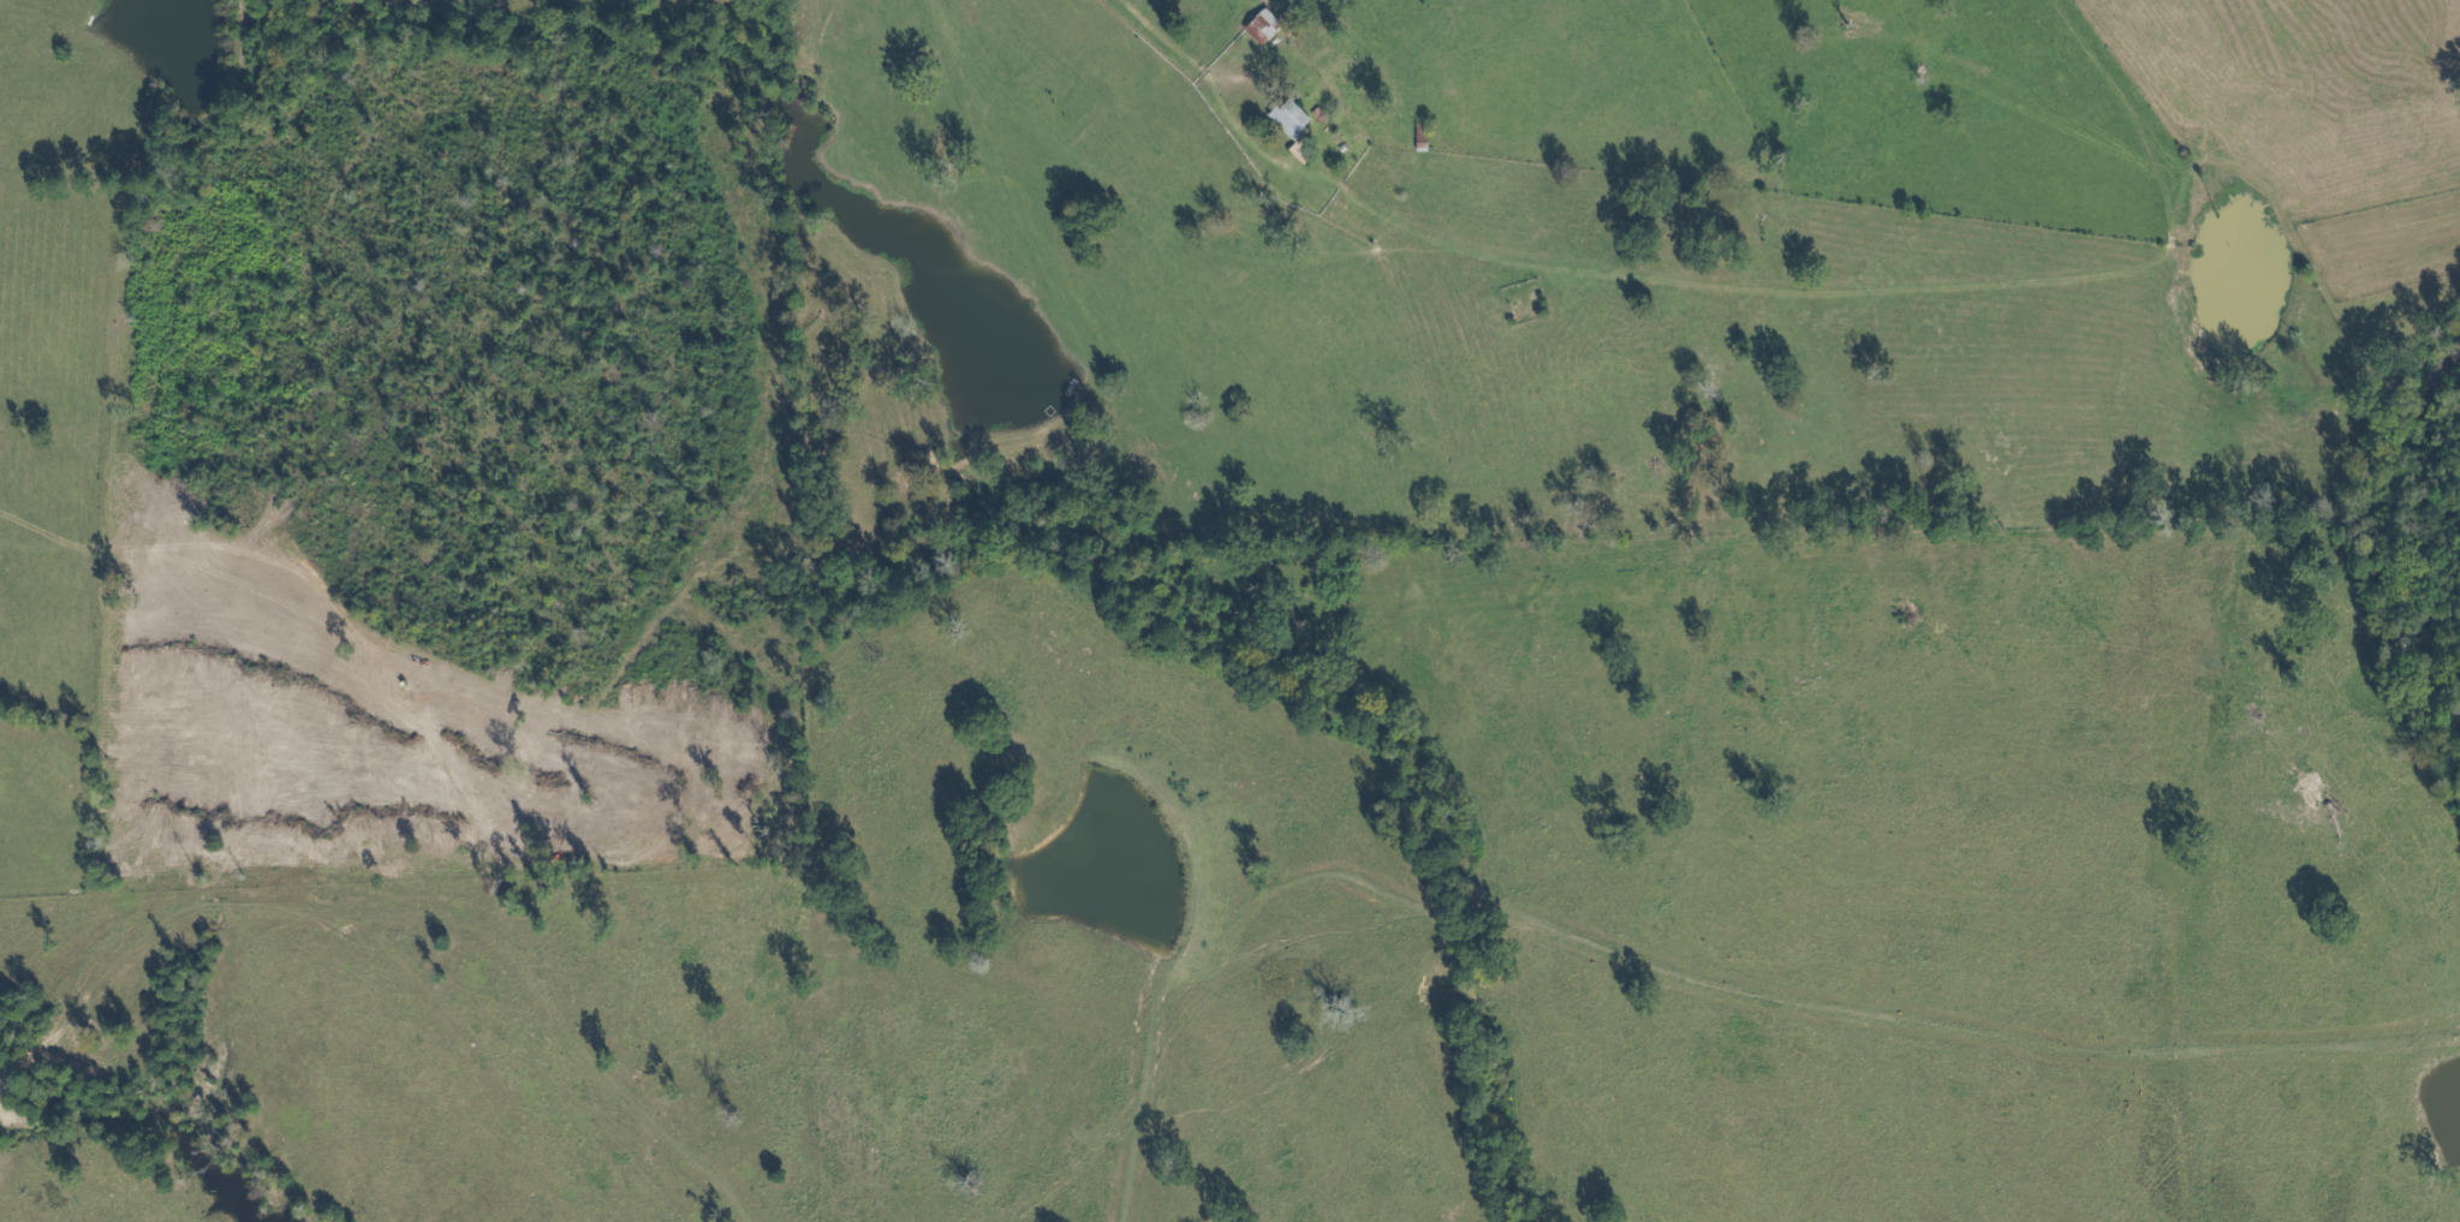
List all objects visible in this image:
road: (1184, 25)
building: (1286, 117)

